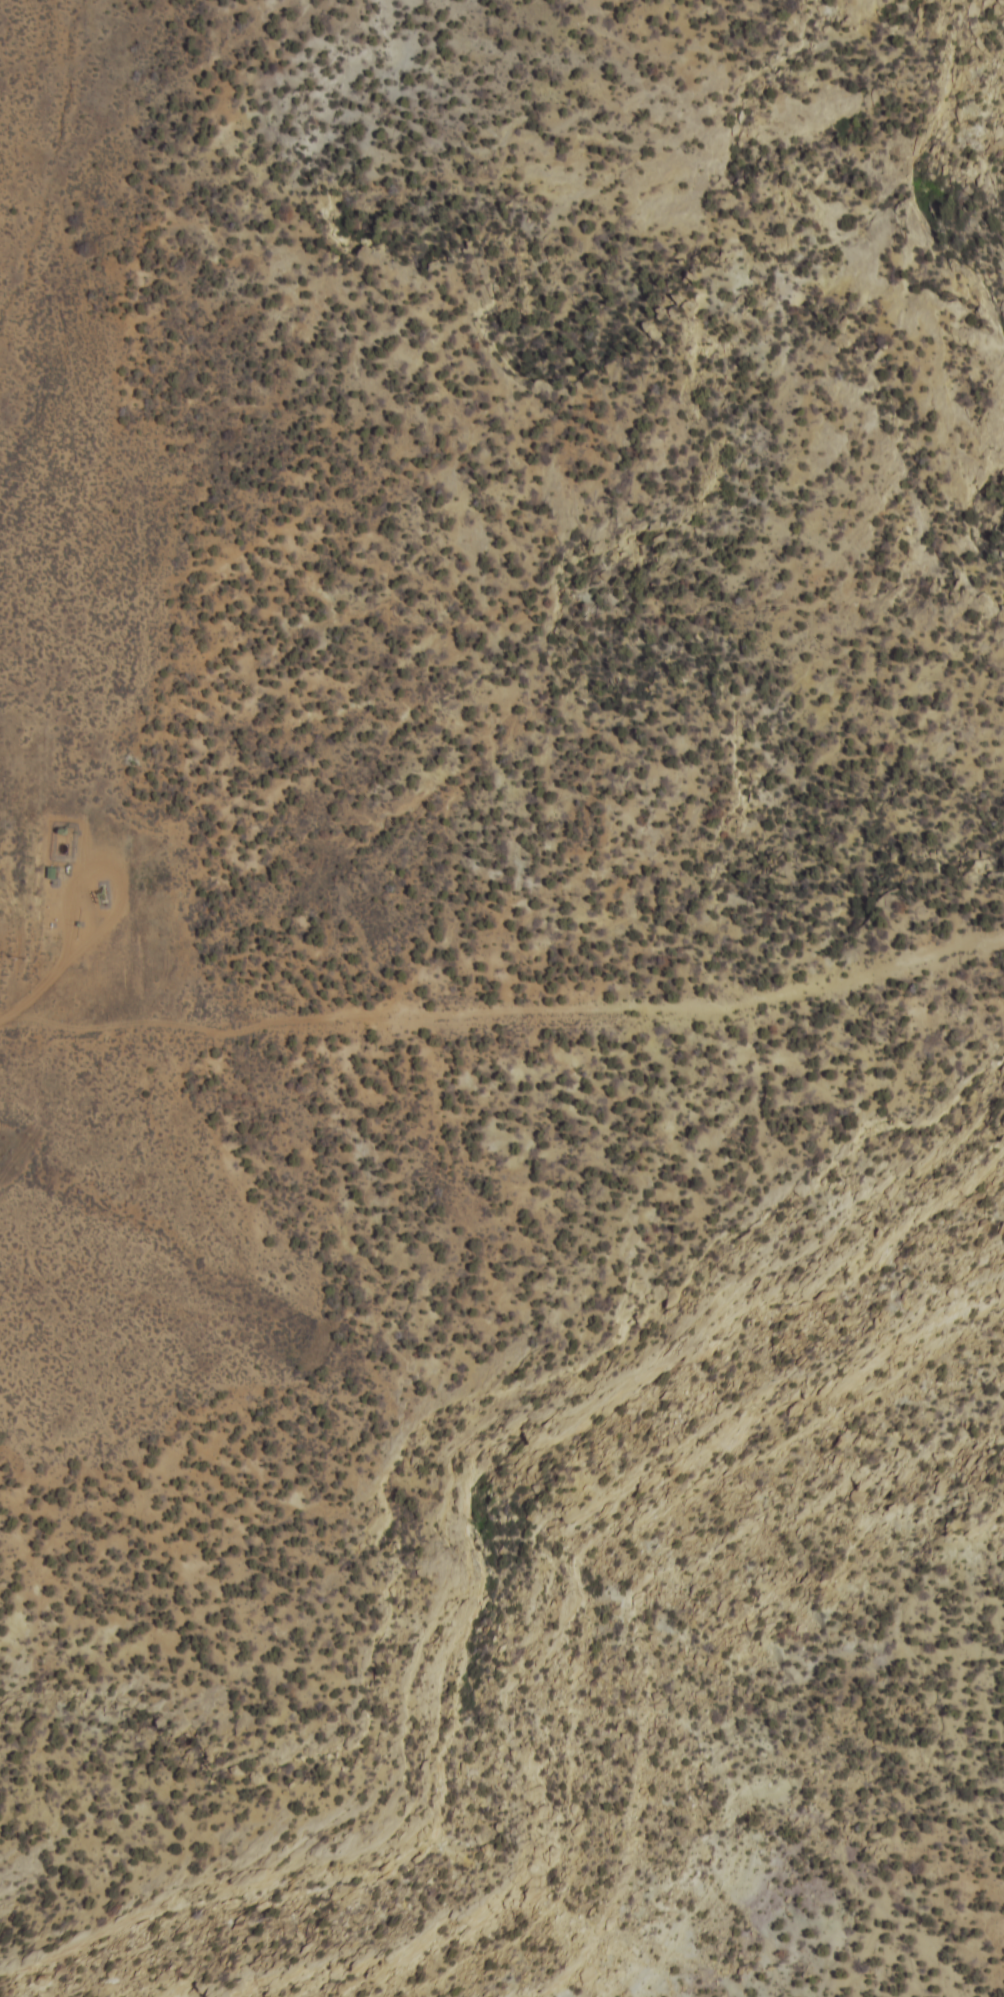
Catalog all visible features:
road: (37, 963)

